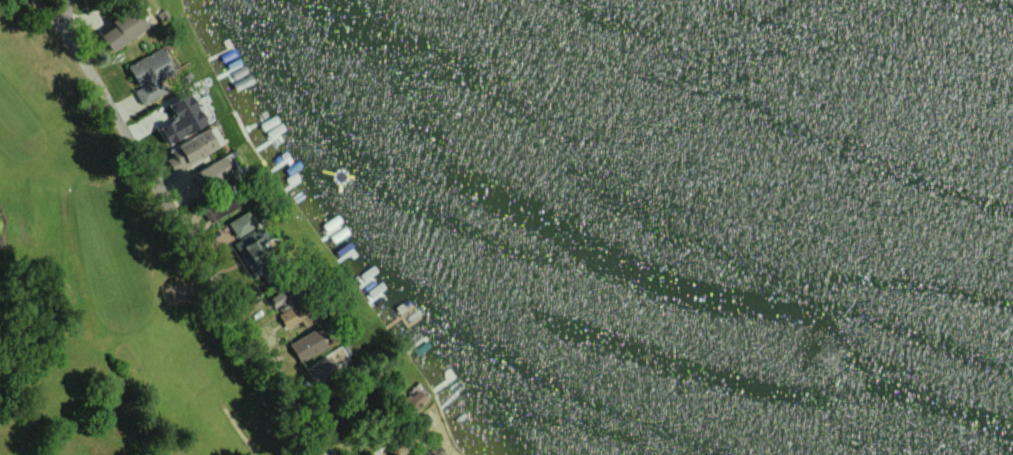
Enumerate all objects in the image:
road: (42, 14)
building: (120, 31)
building: (148, 75)
building: (180, 120)
building: (192, 149)
building: (213, 171)
building: (239, 224)
road: (180, 238)
park: (127, 283)
building: (289, 316)
building: (305, 345)
building: (414, 398)
road: (238, 429)

